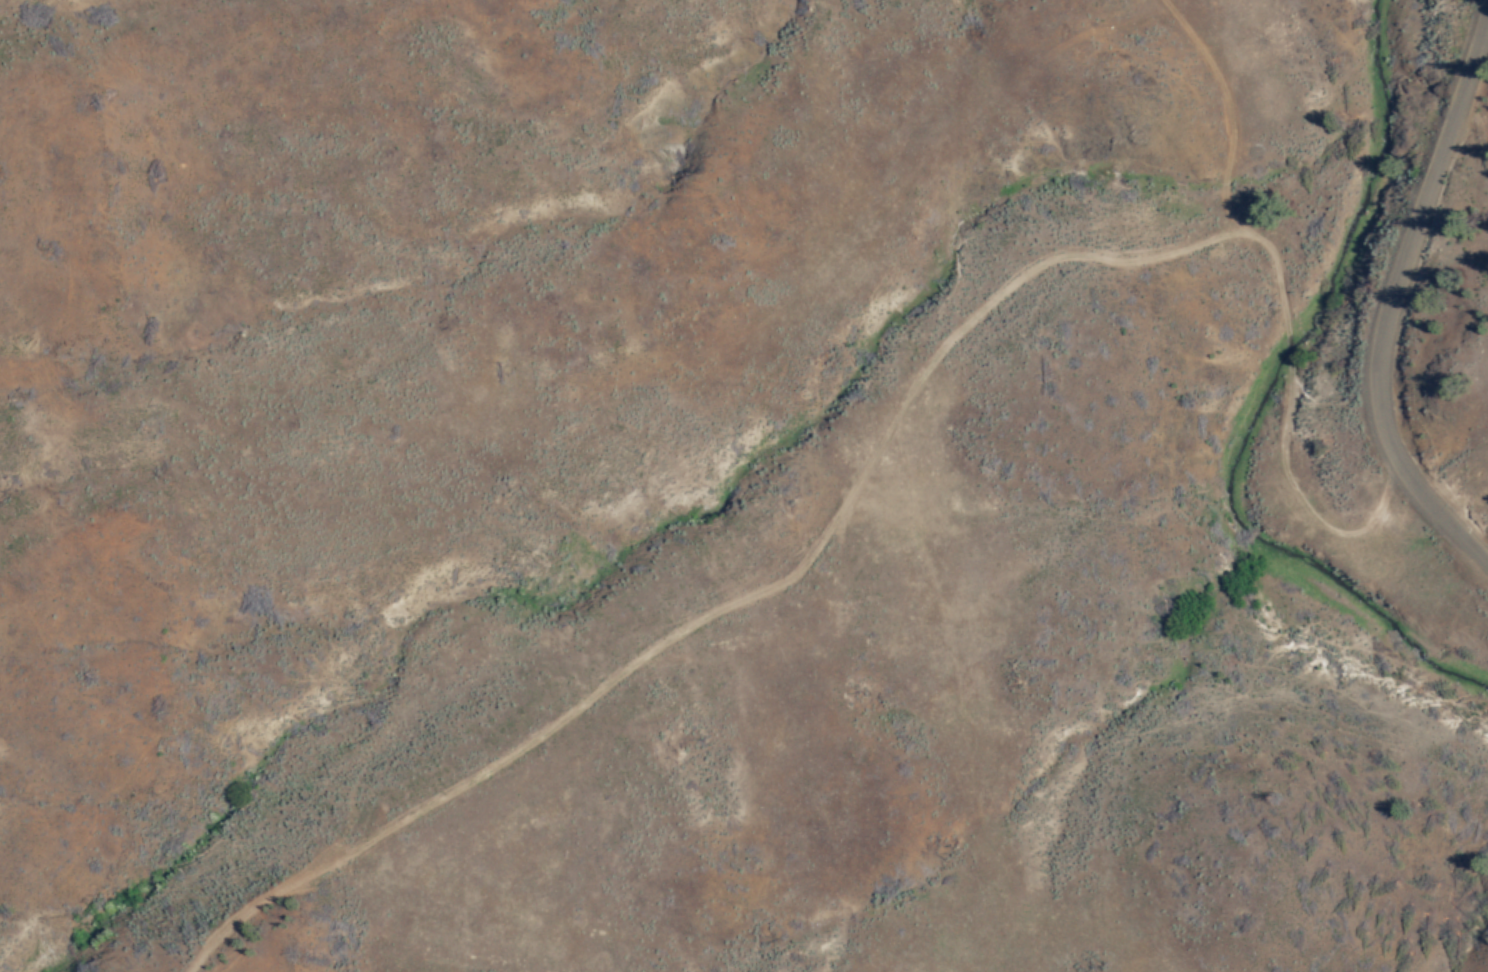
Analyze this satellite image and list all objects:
road: (1391, 279)

